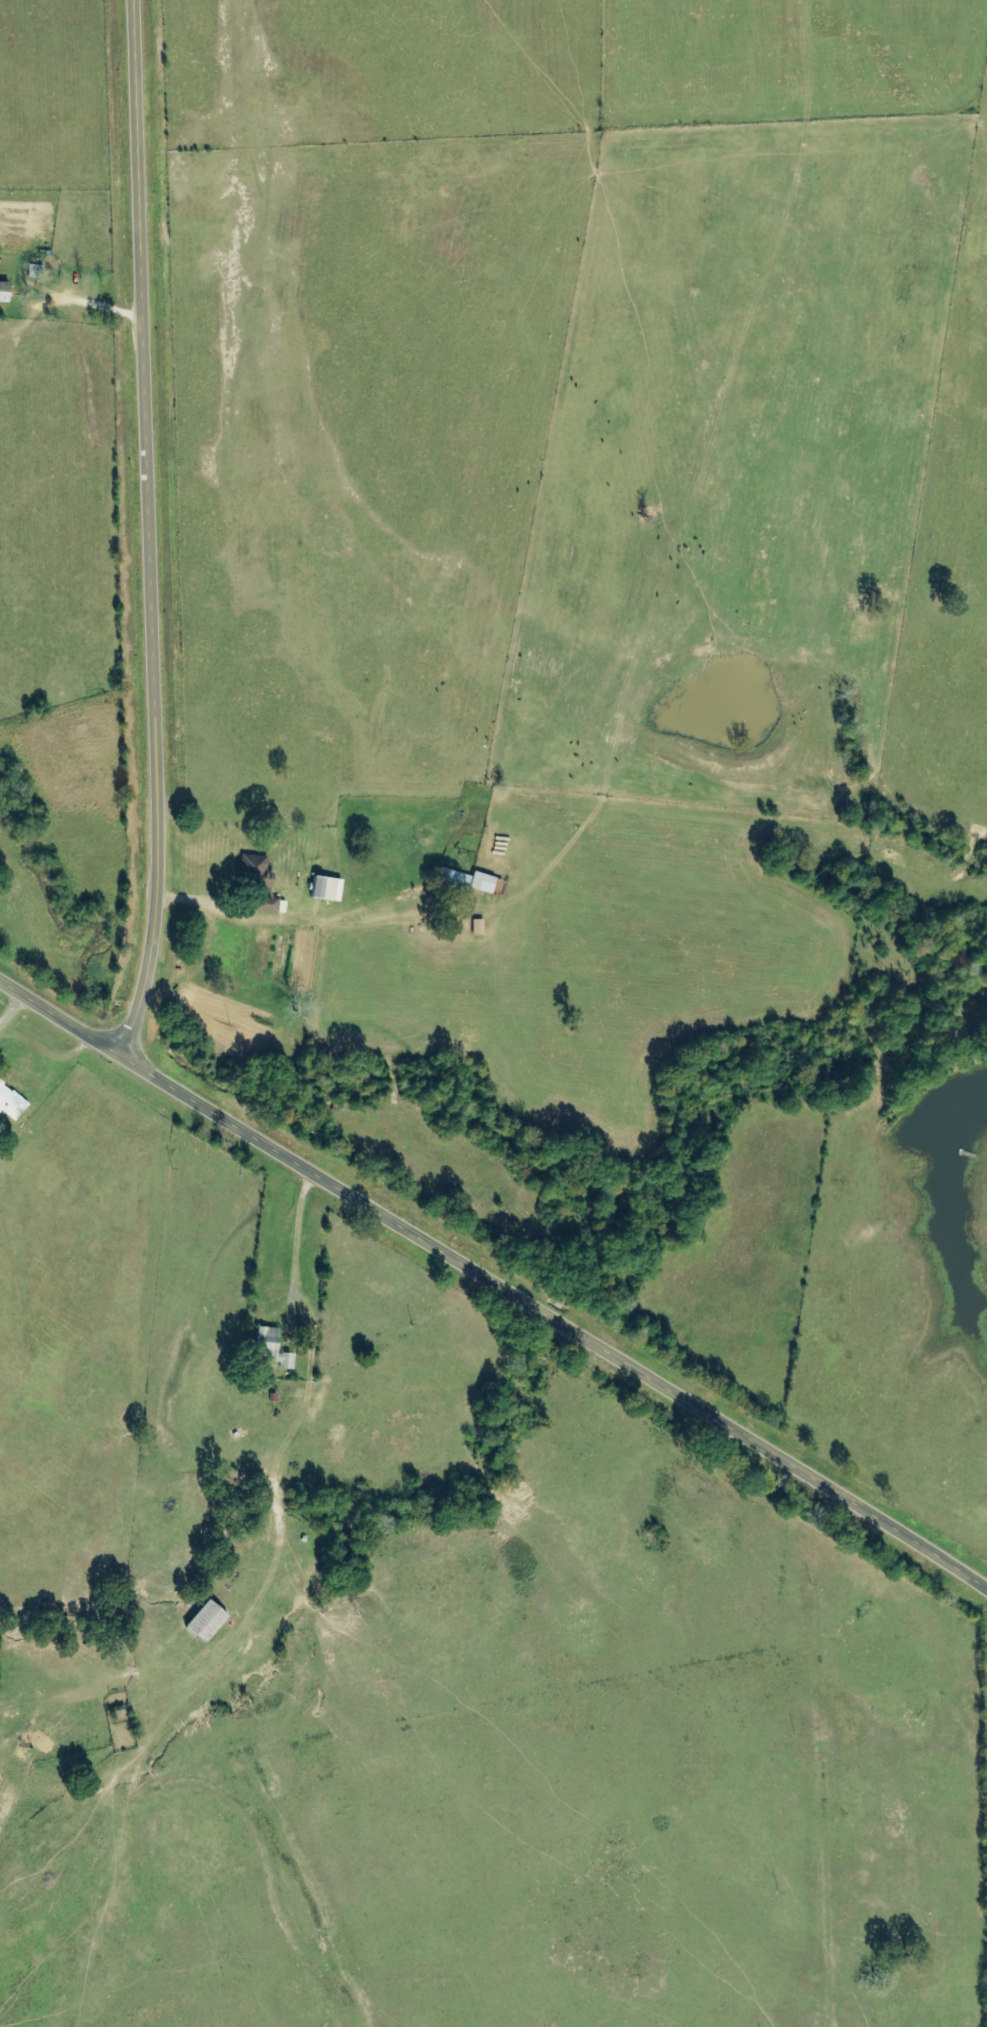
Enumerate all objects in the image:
building: (3, 291)
road: (156, 529)
building: (470, 880)
building: (262, 885)
building: (323, 888)
building: (478, 926)
building: (10, 1102)
road: (493, 1274)
building: (271, 1349)
building: (205, 1621)

